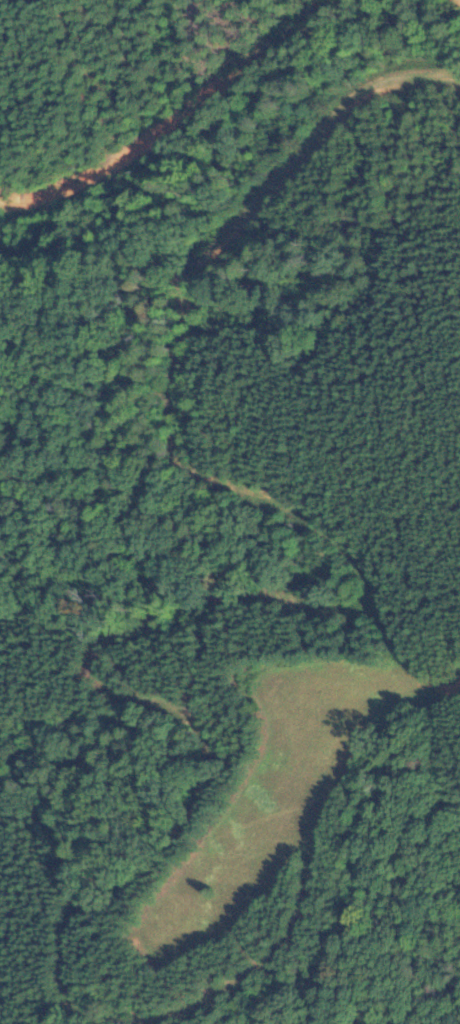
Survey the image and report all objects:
road: (226, 47)

